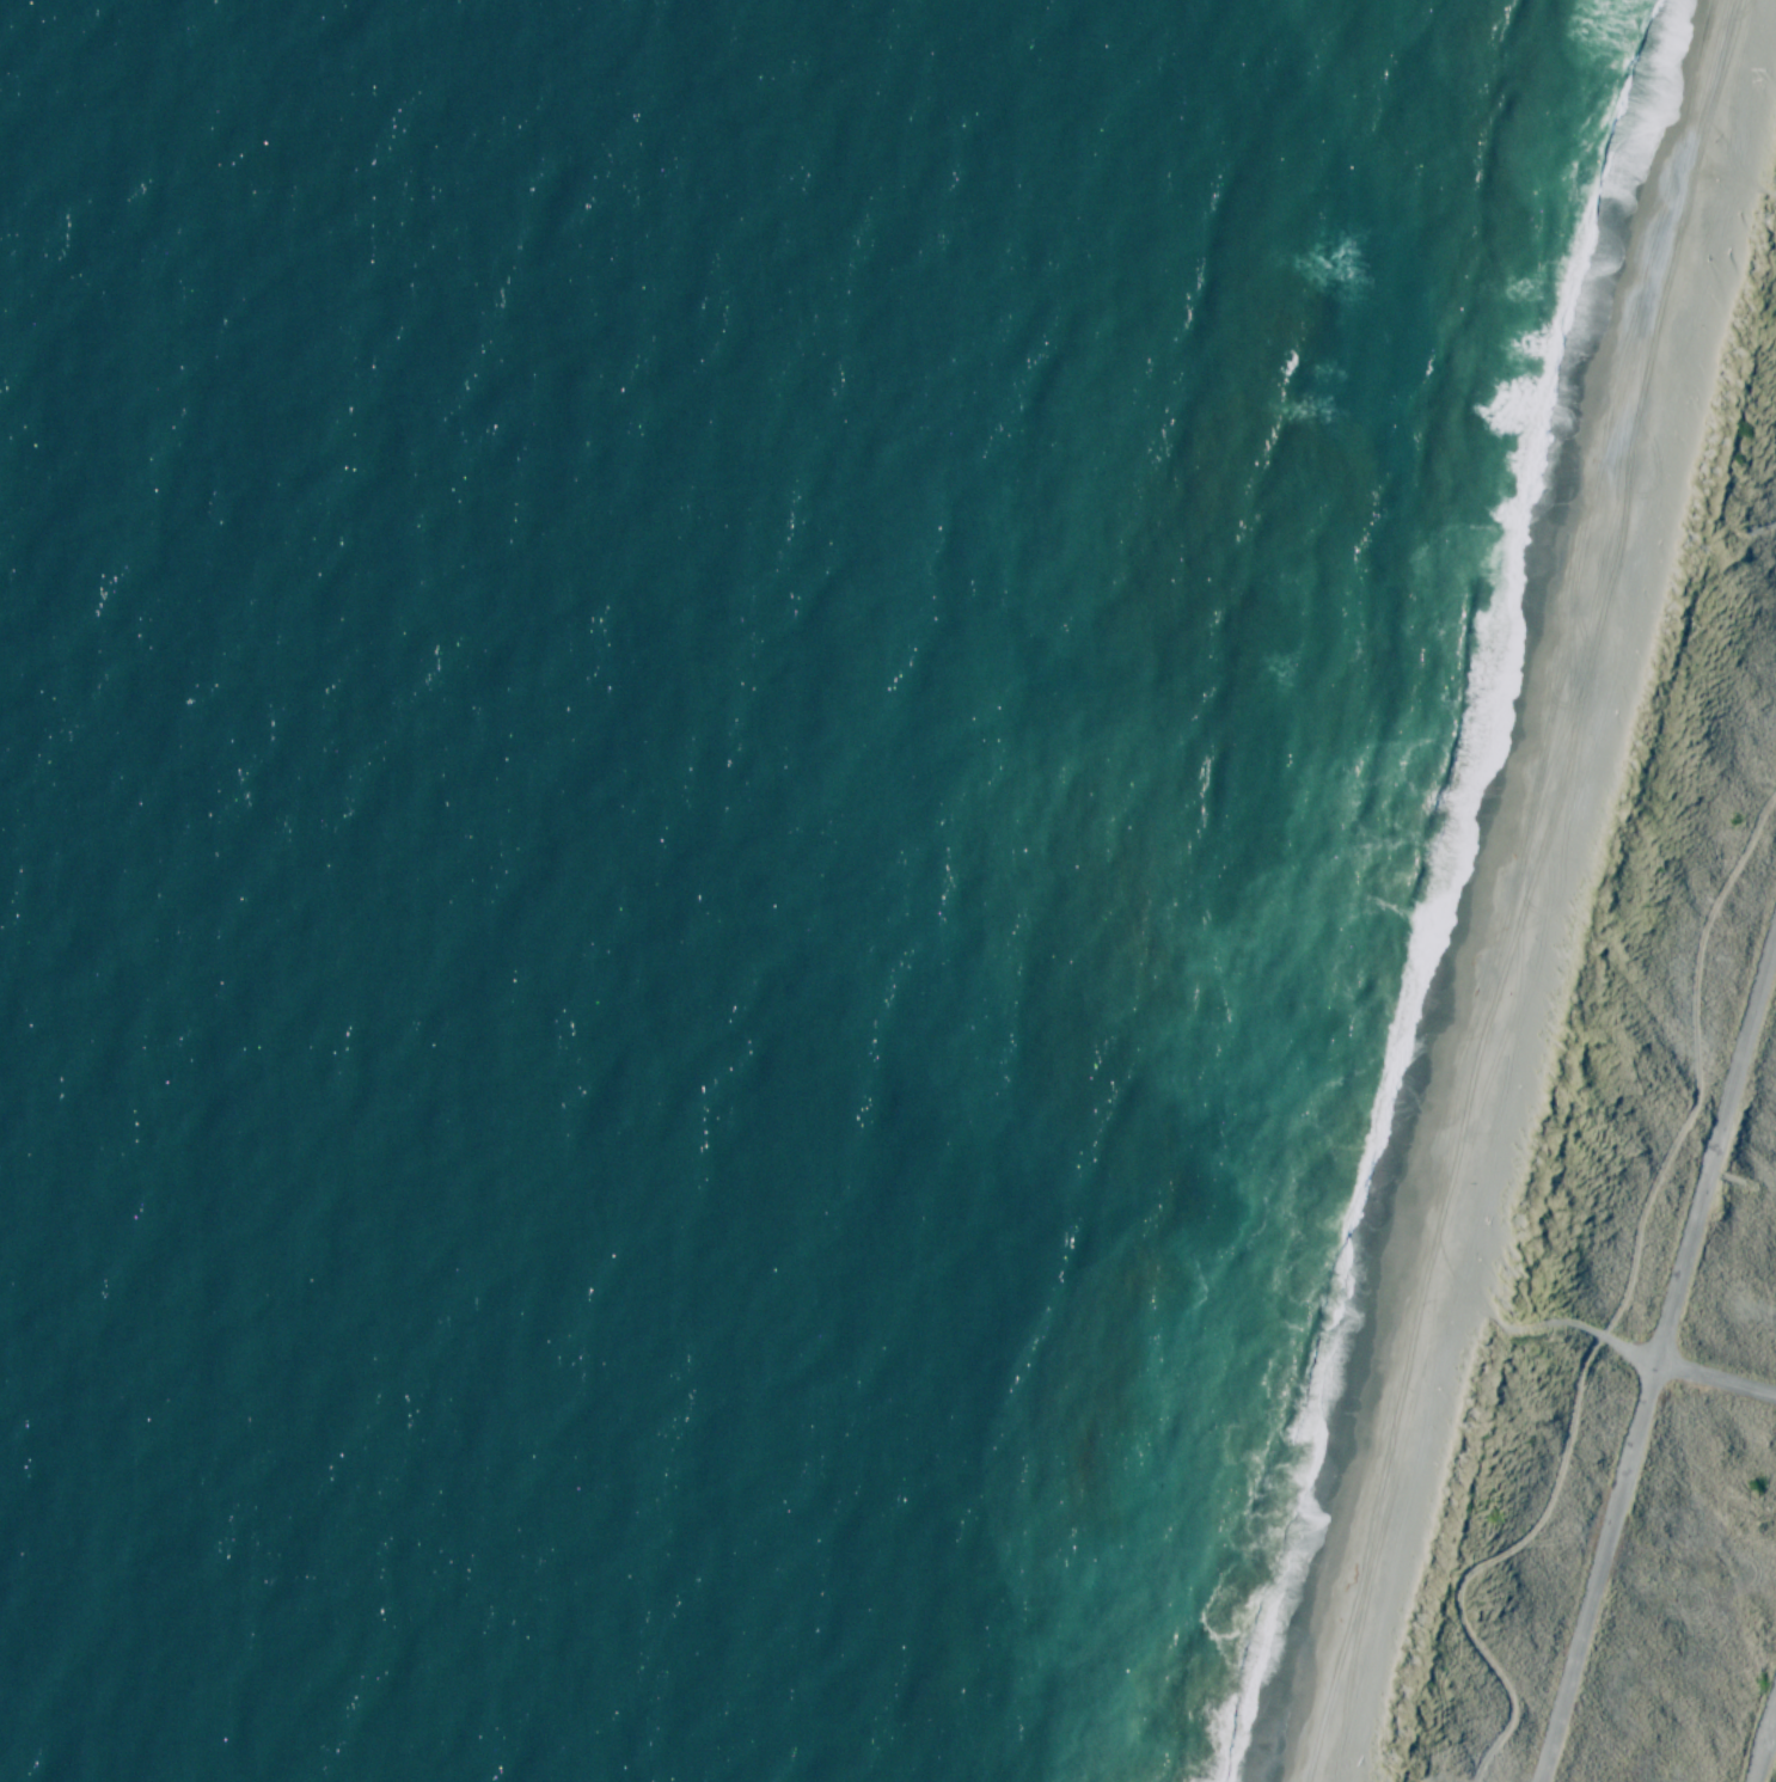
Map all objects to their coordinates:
road: (1775, 198)
road: (1613, 1308)
road: (1631, 1353)
road: (1659, 1361)
road: (1765, 1746)

